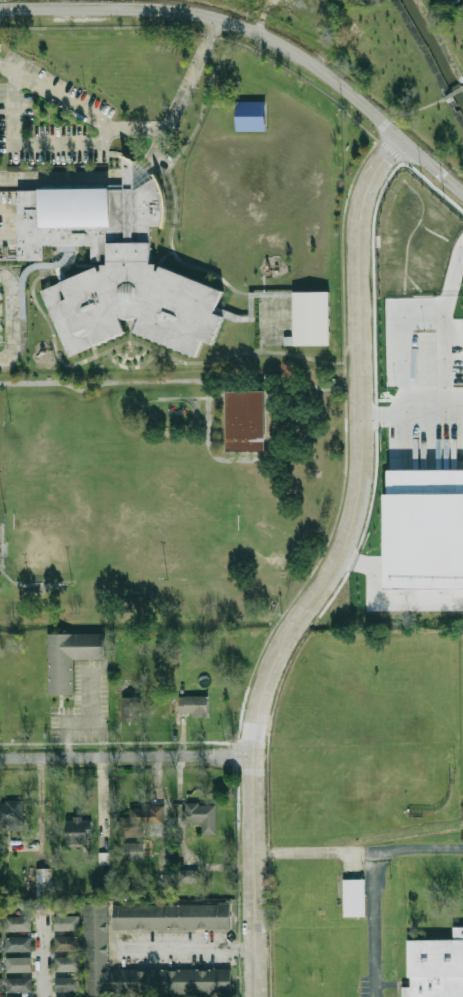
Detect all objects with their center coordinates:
road: (257, 34)
river: (435, 49)
road: (256, 51)
road: (189, 74)
road: (452, 93)
road: (54, 95)
road: (220, 105)
building: (251, 114)
road: (162, 128)
road: (29, 143)
road: (62, 176)
road: (130, 176)
road: (172, 183)
building: (117, 266)
building: (25, 298)
building: (254, 305)
road: (12, 315)
building: (296, 318)
road: (131, 330)
road: (261, 348)
road: (136, 352)
road: (127, 353)
road: (162, 353)
road: (131, 357)
road: (131, 366)
parking lot: (416, 376)
road: (180, 382)
road: (180, 396)
road: (196, 406)
road: (391, 417)
building: (244, 419)
road: (239, 459)
park: (163, 491)
building: (426, 528)
road: (329, 532)
road: (0, 569)
road: (333, 570)
road: (8, 578)
building: (71, 656)
building: (194, 705)
building: (130, 708)
road: (127, 757)
building: (12, 814)
building: (201, 816)
building: (144, 822)
building: (79, 831)
building: (3, 848)
building: (133, 851)
road: (359, 857)
building: (187, 876)
building: (44, 882)
building: (353, 897)
building: (178, 916)
building: (3, 923)
building: (24, 923)
building: (71, 923)
road: (377, 927)
building: (3, 942)
building: (24, 942)
building: (70, 942)
road: (187, 948)
building: (101, 949)
road: (48, 962)
building: (4, 963)
building: (24, 963)
building: (71, 963)
building: (435, 967)
building: (179, 981)
building: (4, 983)
building: (24, 983)
building: (71, 983)
building: (4, 996)
building: (25, 996)
building: (72, 996)

